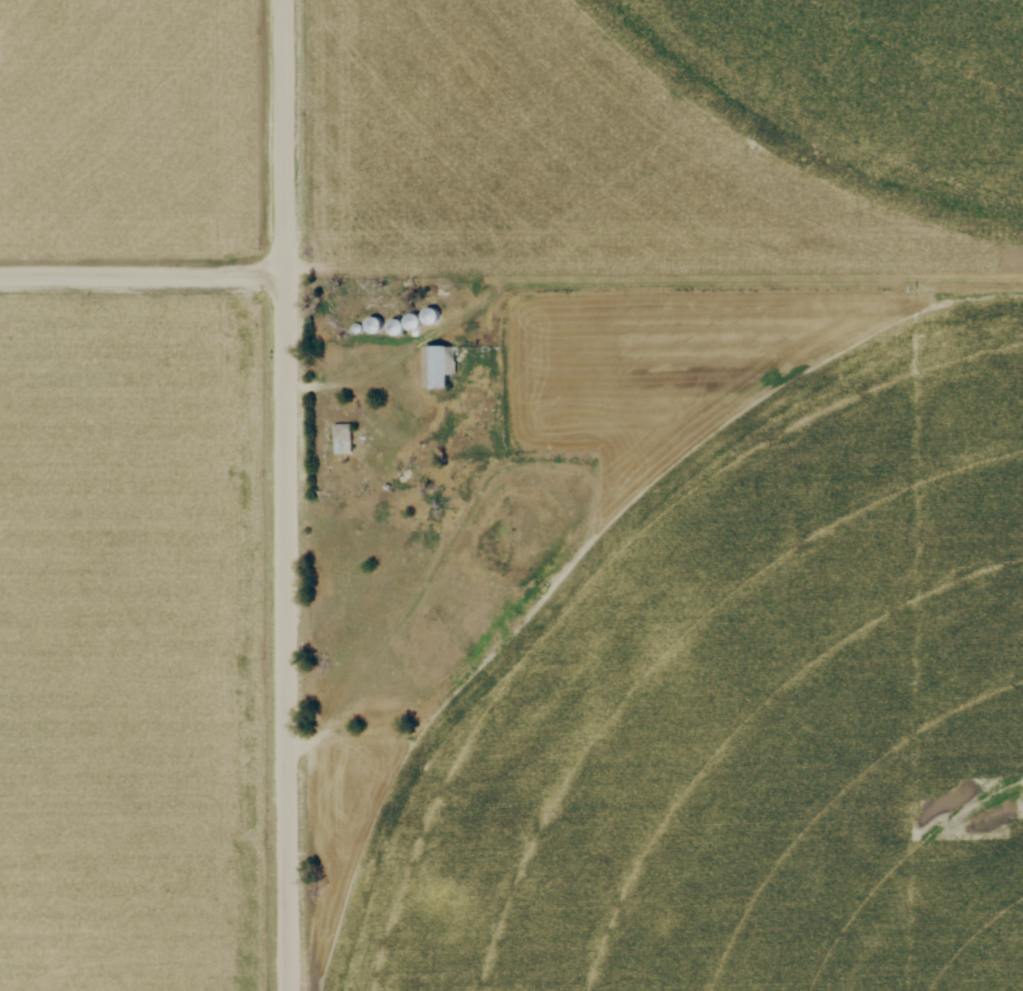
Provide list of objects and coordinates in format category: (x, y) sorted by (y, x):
road: (140, 276)
building: (431, 313)
silo: (431, 313)
building: (411, 319)
silo: (411, 319)
building: (372, 322)
silo: (372, 322)
building: (393, 323)
silo: (393, 323)
building: (356, 325)
silo: (356, 325)
building: (436, 360)
building: (341, 429)
road: (283, 495)

